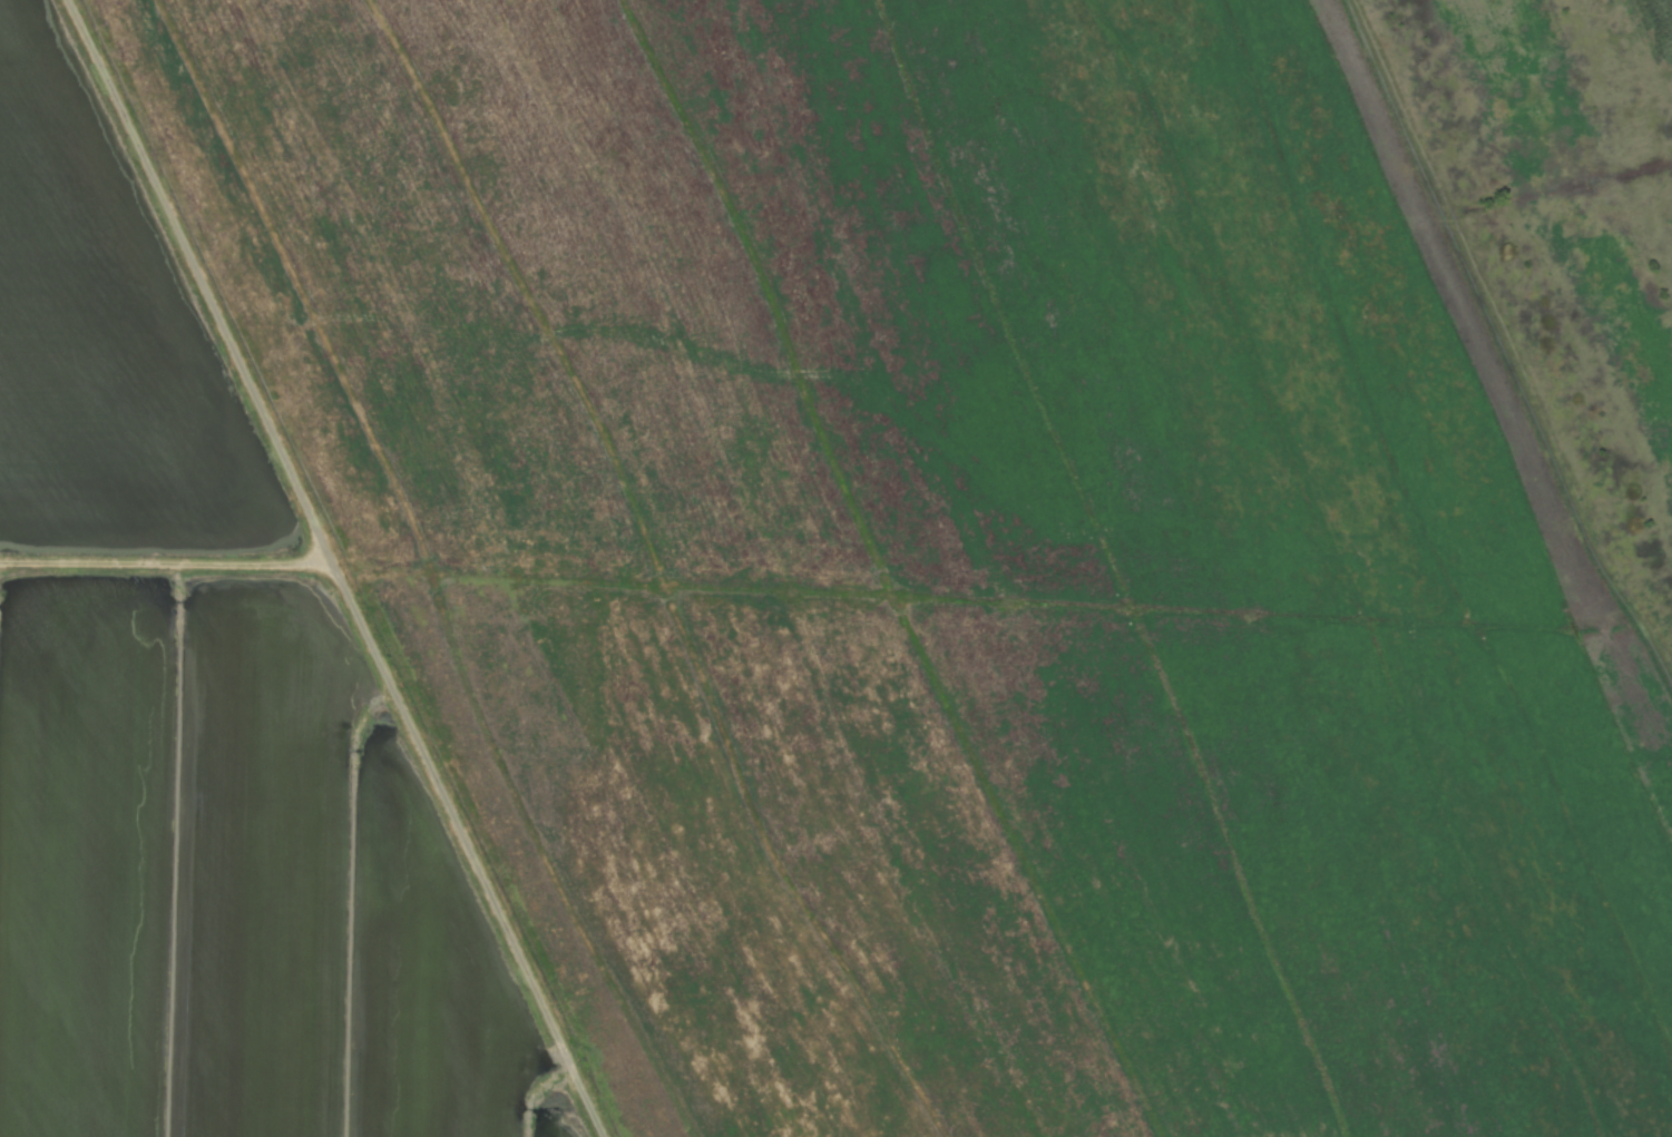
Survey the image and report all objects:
crop: (780, 591)

